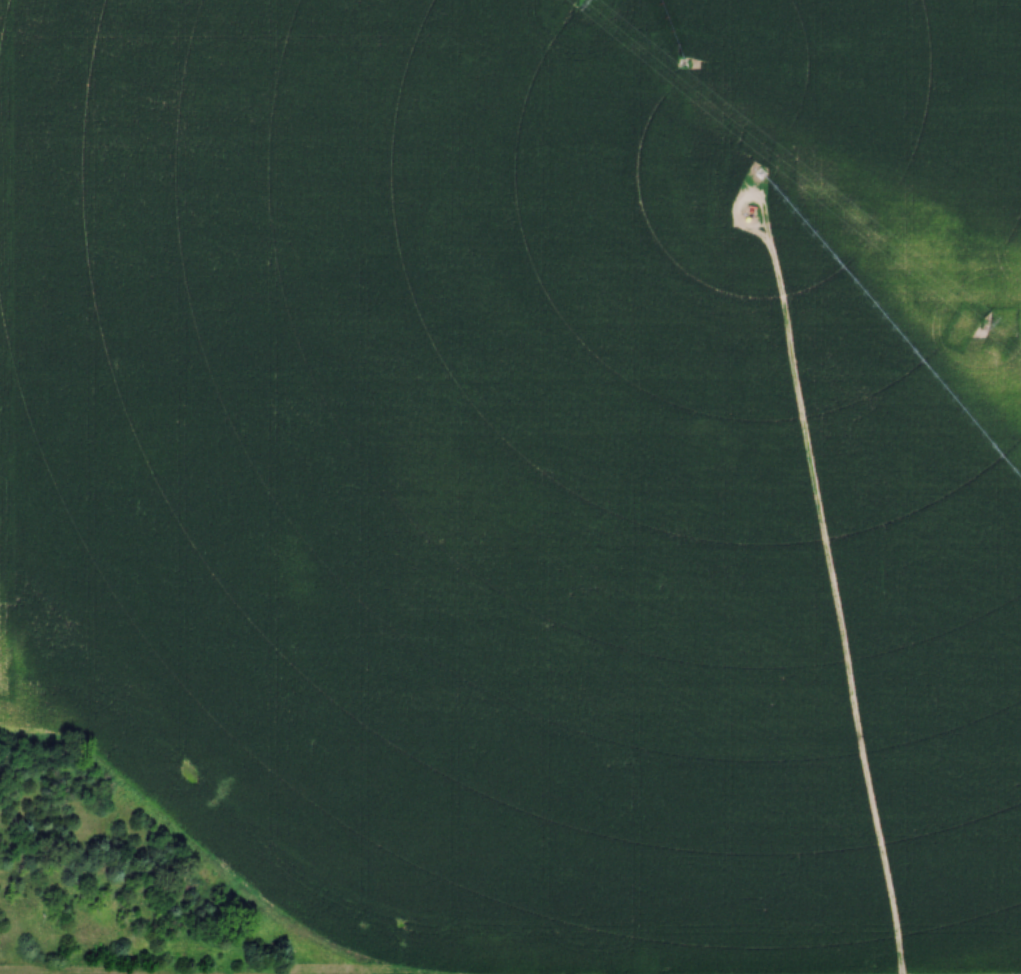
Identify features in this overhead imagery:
power tower: (586, 2)
power tower: (982, 326)

